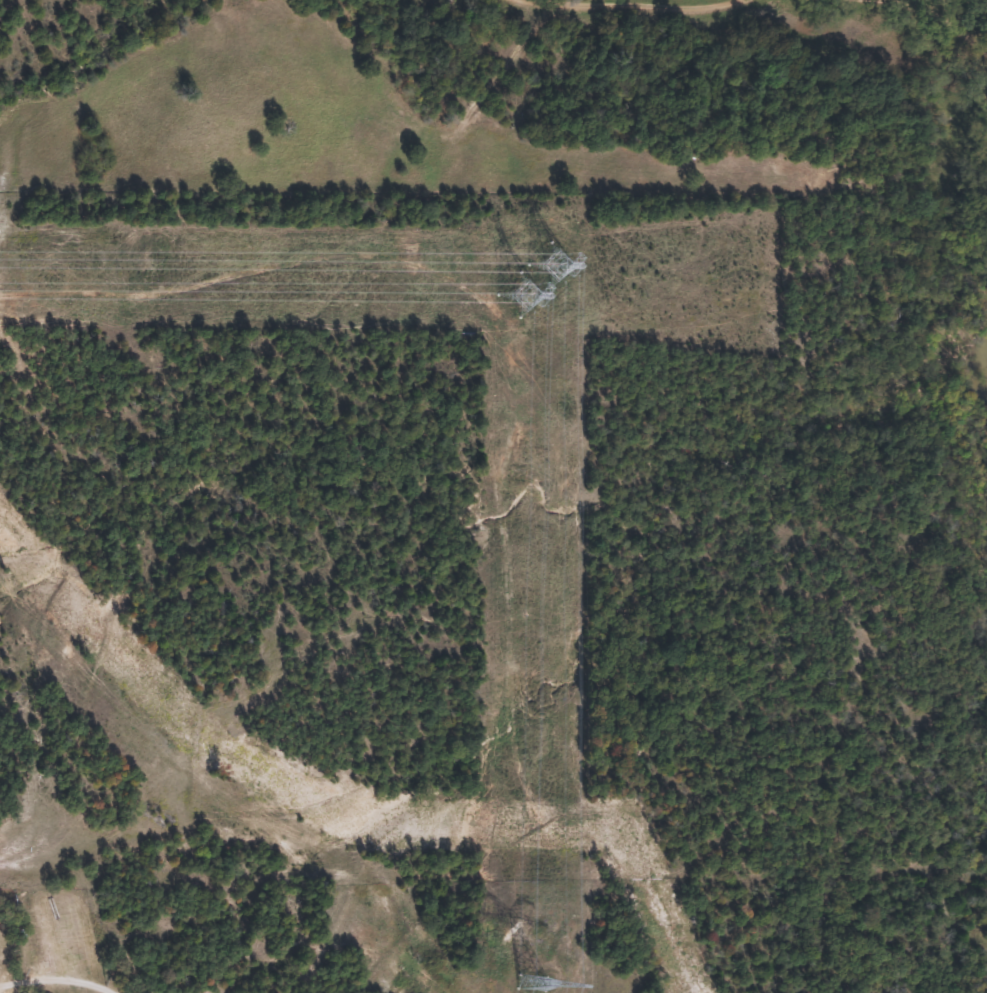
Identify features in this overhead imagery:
power tower: (534, 281)
road: (32, 689)
power tower: (530, 983)
road: (49, 986)
road: (0, 992)

